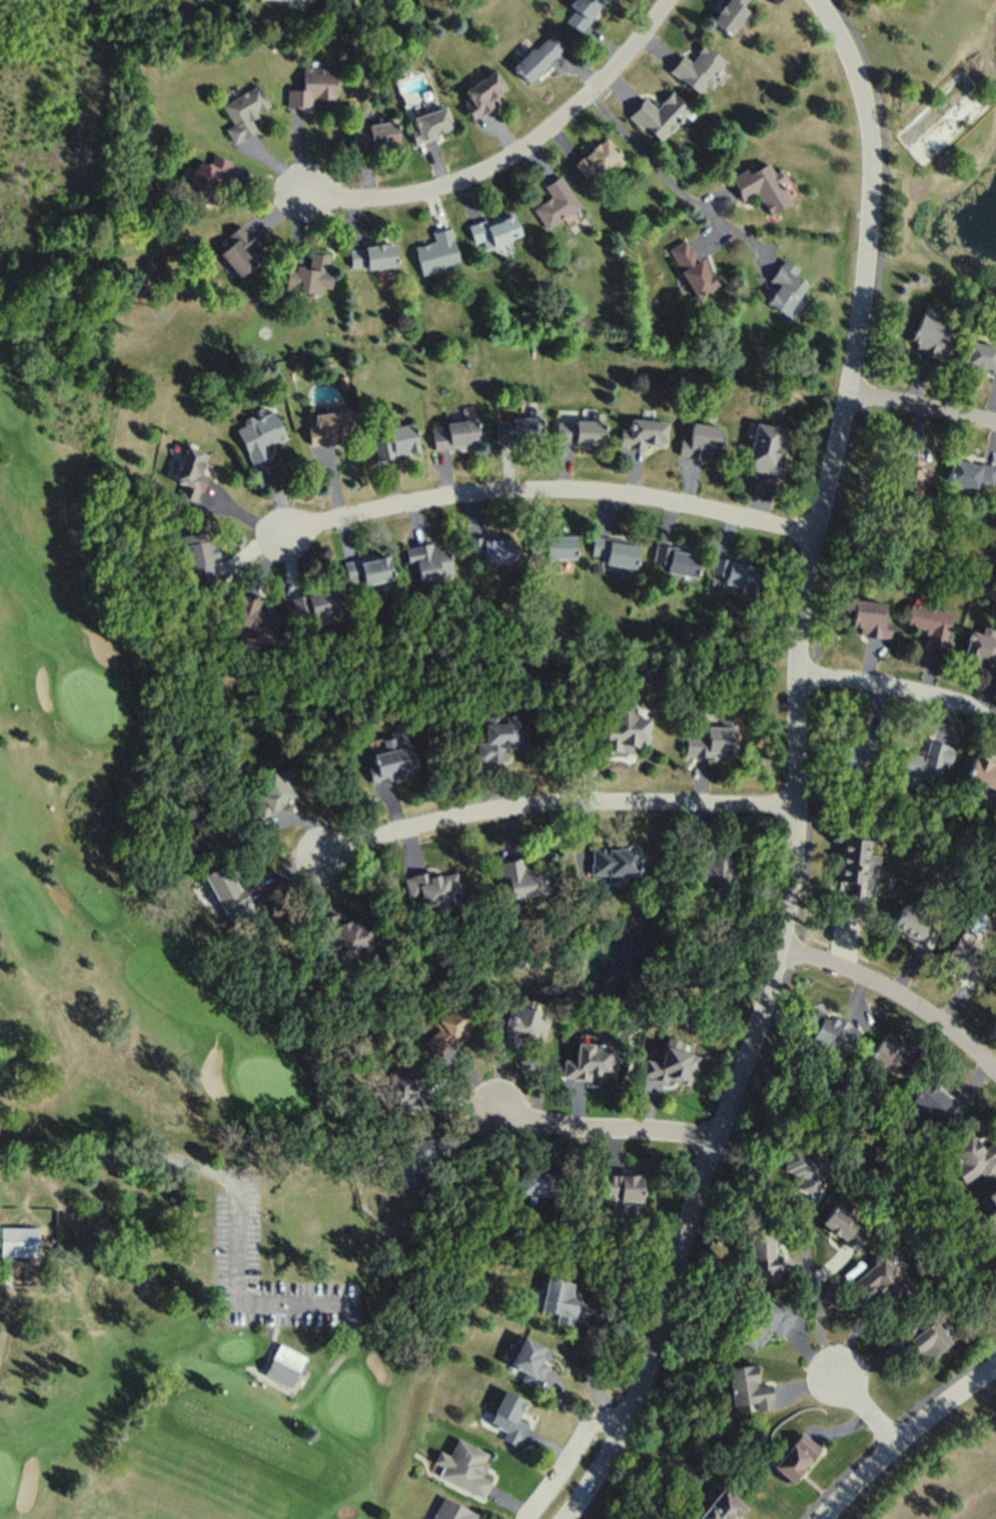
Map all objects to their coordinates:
building: (581, 12)
building: (730, 13)
building: (538, 56)
building: (698, 68)
building: (312, 86)
building: (482, 93)
building: (243, 111)
building: (659, 114)
building: (429, 124)
building: (373, 134)
road: (511, 154)
building: (596, 159)
road: (676, 178)
building: (205, 179)
building: (762, 186)
building: (556, 201)
building: (494, 229)
building: (239, 249)
building: (437, 251)
building: (371, 256)
building: (690, 266)
building: (308, 273)
building: (784, 286)
building: (930, 337)
building: (981, 355)
road: (924, 407)
building: (329, 426)
building: (517, 427)
building: (579, 430)
building: (456, 433)
building: (644, 433)
building: (258, 434)
building: (395, 440)
building: (701, 440)
building: (766, 448)
building: (190, 472)
building: (971, 472)
building: (907, 474)
road: (550, 490)
building: (551, 545)
building: (490, 547)
building: (616, 553)
building: (199, 557)
building: (428, 559)
building: (677, 559)
building: (368, 568)
building: (733, 571)
building: (314, 602)
building: (251, 616)
building: (869, 618)
building: (930, 622)
building: (981, 647)
road: (895, 691)
building: (623, 728)
building: (503, 735)
building: (712, 739)
building: (863, 744)
building: (392, 761)
building: (928, 761)
road: (806, 771)
road: (794, 772)
building: (982, 772)
building: (272, 789)
road: (556, 804)
building: (612, 861)
building: (716, 869)
building: (853, 877)
building: (521, 880)
building: (227, 891)
building: (430, 892)
building: (914, 925)
building: (346, 936)
building: (964, 960)
road: (896, 995)
building: (448, 1021)
building: (522, 1023)
building: (829, 1029)
building: (893, 1058)
building: (590, 1060)
building: (672, 1062)
building: (400, 1089)
building: (935, 1100)
park: (155, 1124)
road: (605, 1131)
building: (973, 1156)
road: (124, 1160)
building: (410, 1161)
building: (806, 1166)
building: (536, 1181)
building: (620, 1186)
building: (993, 1193)
parking lot: (235, 1223)
building: (845, 1225)
building: (18, 1240)
building: (761, 1251)
building: (881, 1280)
building: (559, 1298)
road: (246, 1300)
road: (815, 1307)
building: (764, 1321)
building: (926, 1338)
road: (343, 1352)
building: (530, 1359)
building: (284, 1363)
road: (254, 1373)
building: (748, 1386)
road: (871, 1411)
building: (508, 1416)
road: (890, 1424)
road: (907, 1440)
road: (565, 1454)
building: (796, 1455)
building: (466, 1466)
building: (721, 1506)
building: (451, 1510)

